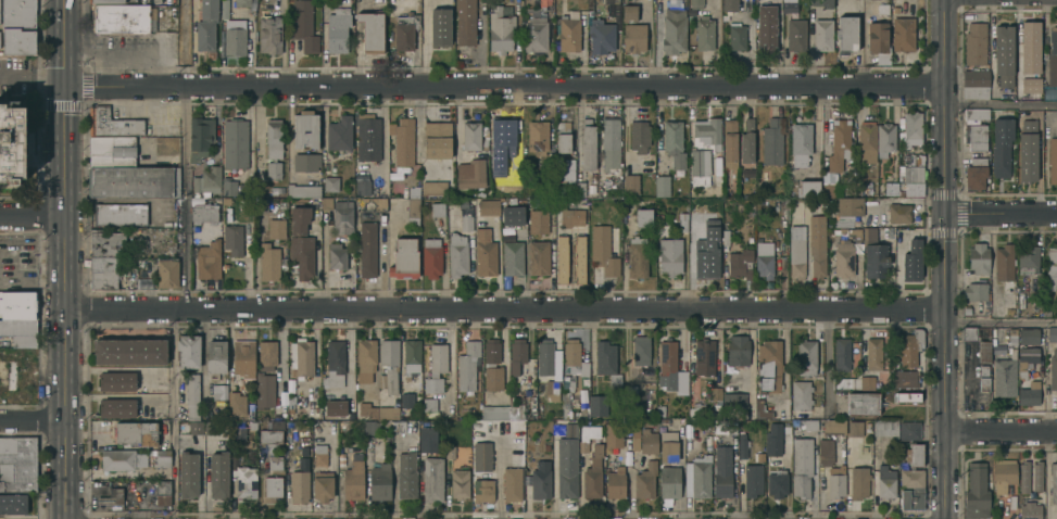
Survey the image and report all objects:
building: (106, 1)
building: (415, 1)
building: (611, 1)
building: (173, 2)
building: (241, 3)
building: (695, 3)
building: (819, 3)
building: (729, 5)
building: (789, 7)
building: (882, 10)
building: (894, 12)
building: (628, 13)
building: (123, 20)
building: (465, 23)
building: (205, 25)
building: (303, 25)
building: (17, 27)
building: (440, 27)
building: (501, 29)
building: (766, 29)
building: (372, 31)
building: (674, 31)
building: (337, 33)
building: (405, 33)
building: (704, 34)
building: (269, 35)
building: (534, 35)
building: (846, 35)
building: (903, 35)
building: (568, 36)
building: (600, 36)
building: (795, 36)
building: (822, 36)
building: (737, 37)
building: (232, 38)
building: (633, 38)
building: (878, 38)
road: (1018, 41)
road: (64, 43)
road: (778, 43)
building: (974, 45)
building: (1030, 47)
road: (991, 53)
building: (1004, 55)
building: (1052, 58)
road: (33, 77)
building: (976, 84)
building: (1030, 86)
road: (504, 87)
traffic signals: (65, 88)
building: (1049, 92)
road: (999, 105)
building: (974, 114)
building: (111, 124)
building: (1004, 128)
building: (305, 129)
building: (911, 129)
building: (707, 132)
building: (339, 134)
building: (504, 136)
building: (470, 137)
building: (639, 137)
building: (974, 137)
building: (200, 138)
building: (367, 138)
building: (537, 138)
building: (563, 138)
building: (885, 139)
building: (436, 140)
building: (485, 140)
building: (729, 141)
building: (11, 142)
building: (746, 142)
building: (772, 142)
building: (867, 142)
building: (609, 143)
building: (235, 144)
building: (402, 144)
building: (674, 144)
building: (800, 144)
building: (588, 145)
building: (839, 145)
building: (273, 148)
building: (111, 152)
building: (1027, 159)
building: (1001, 161)
building: (1053, 161)
building: (306, 162)
building: (717, 166)
building: (699, 167)
building: (470, 175)
building: (974, 175)
building: (206, 181)
building: (913, 181)
building: (130, 182)
building: (330, 185)
building: (630, 185)
building: (616, 186)
building: (662, 186)
building: (228, 187)
building: (362, 188)
building: (433, 188)
building: (242, 189)
building: (591, 189)
building: (807, 189)
building: (891, 189)
building: (276, 190)
building: (580, 190)
building: (829, 190)
building: (303, 191)
building: (901, 192)
building: (480, 194)
building: (326, 203)
building: (374, 204)
building: (784, 204)
building: (426, 206)
building: (848, 206)
building: (262, 207)
building: (488, 208)
building: (437, 210)
building: (413, 212)
building: (119, 214)
building: (203, 214)
building: (898, 214)
building: (750, 215)
road: (999, 215)
building: (465, 216)
building: (512, 216)
building: (342, 217)
building: (570, 217)
building: (643, 218)
road: (33, 220)
building: (538, 221)
building: (844, 225)
building: (681, 226)
building: (276, 229)
building: (782, 233)
building: (851, 233)
building: (695, 235)
building: (232, 240)
building: (650, 240)
building: (726, 241)
building: (106, 244)
building: (300, 244)
building: (816, 245)
building: (367, 250)
building: (602, 251)
building: (796, 252)
building: (485, 254)
building: (873, 255)
building: (336, 256)
building: (457, 256)
building: (669, 257)
building: (430, 258)
building: (512, 258)
building: (538, 258)
building: (637, 258)
building: (764, 258)
road: (184, 259)
building: (404, 259)
building: (844, 259)
road: (943, 259)
building: (979, 259)
building: (207, 261)
building: (562, 261)
building: (579, 261)
building: (709, 261)
building: (1028, 261)
building: (911, 262)
building: (268, 263)
building: (1004, 263)
building: (740, 265)
road: (381, 266)
road: (325, 267)
building: (1052, 269)
building: (103, 273)
building: (166, 273)
building: (977, 295)
road: (65, 303)
building: (17, 306)
road: (504, 309)
building: (967, 312)
building: (1045, 314)
road: (999, 326)
building: (18, 332)
building: (973, 334)
building: (1052, 336)
building: (1028, 337)
building: (1012, 338)
building: (910, 347)
building: (640, 351)
building: (128, 352)
building: (188, 352)
building: (737, 352)
building: (983, 352)
building: (873, 354)
building: (1012, 354)
building: (266, 355)
building: (365, 355)
building: (842, 355)
building: (516, 356)
building: (544, 357)
building: (703, 357)
building: (215, 358)
building: (301, 358)
building: (805, 358)
building: (574, 359)
building: (667, 360)
building: (1024, 362)
building: (240, 363)
building: (335, 363)
building: (411, 363)
building: (606, 363)
building: (723, 364)
building: (491, 366)
building: (388, 367)
building: (467, 367)
building: (768, 367)
building: (436, 369)
building: (1053, 370)
building: (983, 371)
building: (903, 379)
building: (1004, 379)
building: (116, 382)
building: (567, 382)
building: (842, 383)
building: (867, 383)
building: (983, 384)
building: (254, 385)
building: (551, 388)
building: (264, 391)
building: (218, 393)
building: (1029, 394)
building: (715, 395)
building: (191, 396)
building: (629, 396)
building: (801, 396)
building: (907, 397)
building: (511, 401)
building: (734, 402)
building: (236, 404)
building: (863, 404)
building: (407, 405)
building: (429, 405)
building: (597, 406)
building: (566, 407)
building: (116, 408)
building: (716, 408)
building: (331, 409)
building: (521, 410)
building: (696, 412)
building: (762, 412)
building: (374, 413)
building: (495, 413)
building: (581, 415)
building: (715, 415)
road: (33, 422)
building: (342, 423)
building: (288, 425)
building: (387, 425)
building: (707, 425)
building: (810, 426)
building: (833, 427)
building: (194, 428)
building: (370, 428)
building: (723, 428)
building: (398, 429)
building: (854, 429)
building: (885, 429)
building: (570, 431)
building: (908, 431)
road: (1001, 431)
building: (136, 433)
building: (237, 433)
building: (613, 435)
building: (587, 436)
building: (269, 438)
building: (644, 442)
building: (667, 446)
building: (545, 447)
building: (742, 448)
building: (771, 448)
building: (304, 452)
building: (318, 453)
building: (449, 453)
building: (825, 453)
building: (481, 457)
building: (161, 458)
building: (113, 463)
building: (18, 464)
building: (274, 464)
building: (430, 465)
building: (801, 467)
building: (566, 468)
building: (721, 472)
building: (188, 474)
building: (217, 474)
building: (592, 474)
building: (405, 476)
building: (1003, 476)
building: (1036, 477)
building: (697, 478)
building: (1023, 478)
building: (539, 479)
building: (911, 479)
building: (353, 480)
building: (752, 480)
building: (644, 481)
building: (246, 482)
building: (668, 482)
building: (885, 482)
building: (299, 483)
building: (379, 483)
building: (615, 483)
building: (835, 483)
building: (858, 483)
building: (1053, 483)
building: (458, 484)
building: (511, 484)
building: (777, 484)
building: (322, 486)
building: (270, 490)
building: (482, 491)
building: (976, 492)
building: (162, 493)
building: (111, 497)
building: (13, 504)
building: (1029, 510)

